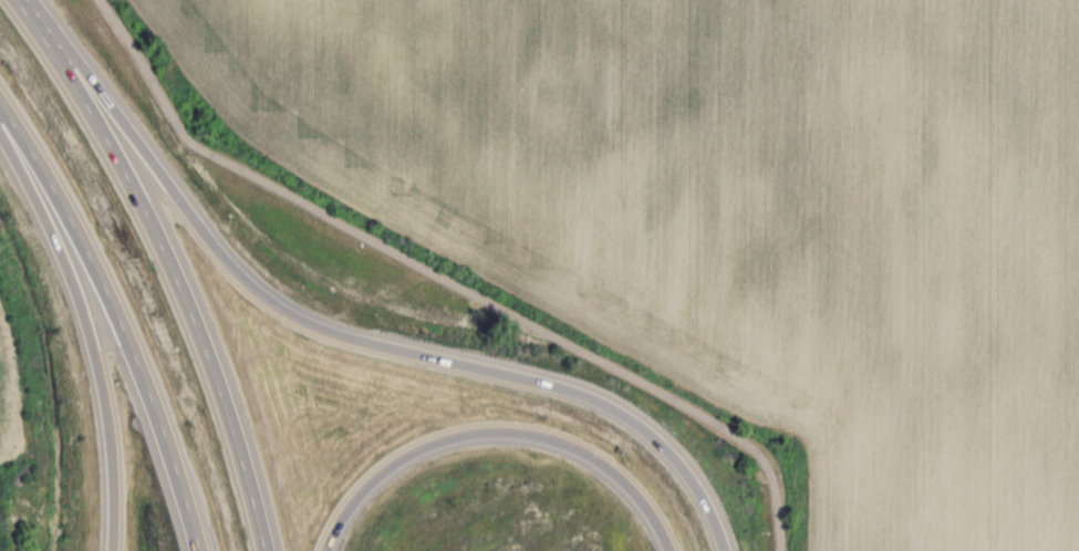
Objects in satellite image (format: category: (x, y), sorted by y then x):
road: (167, 262)
road: (447, 280)
road: (117, 316)
road: (338, 333)
road: (90, 335)
road: (497, 430)

